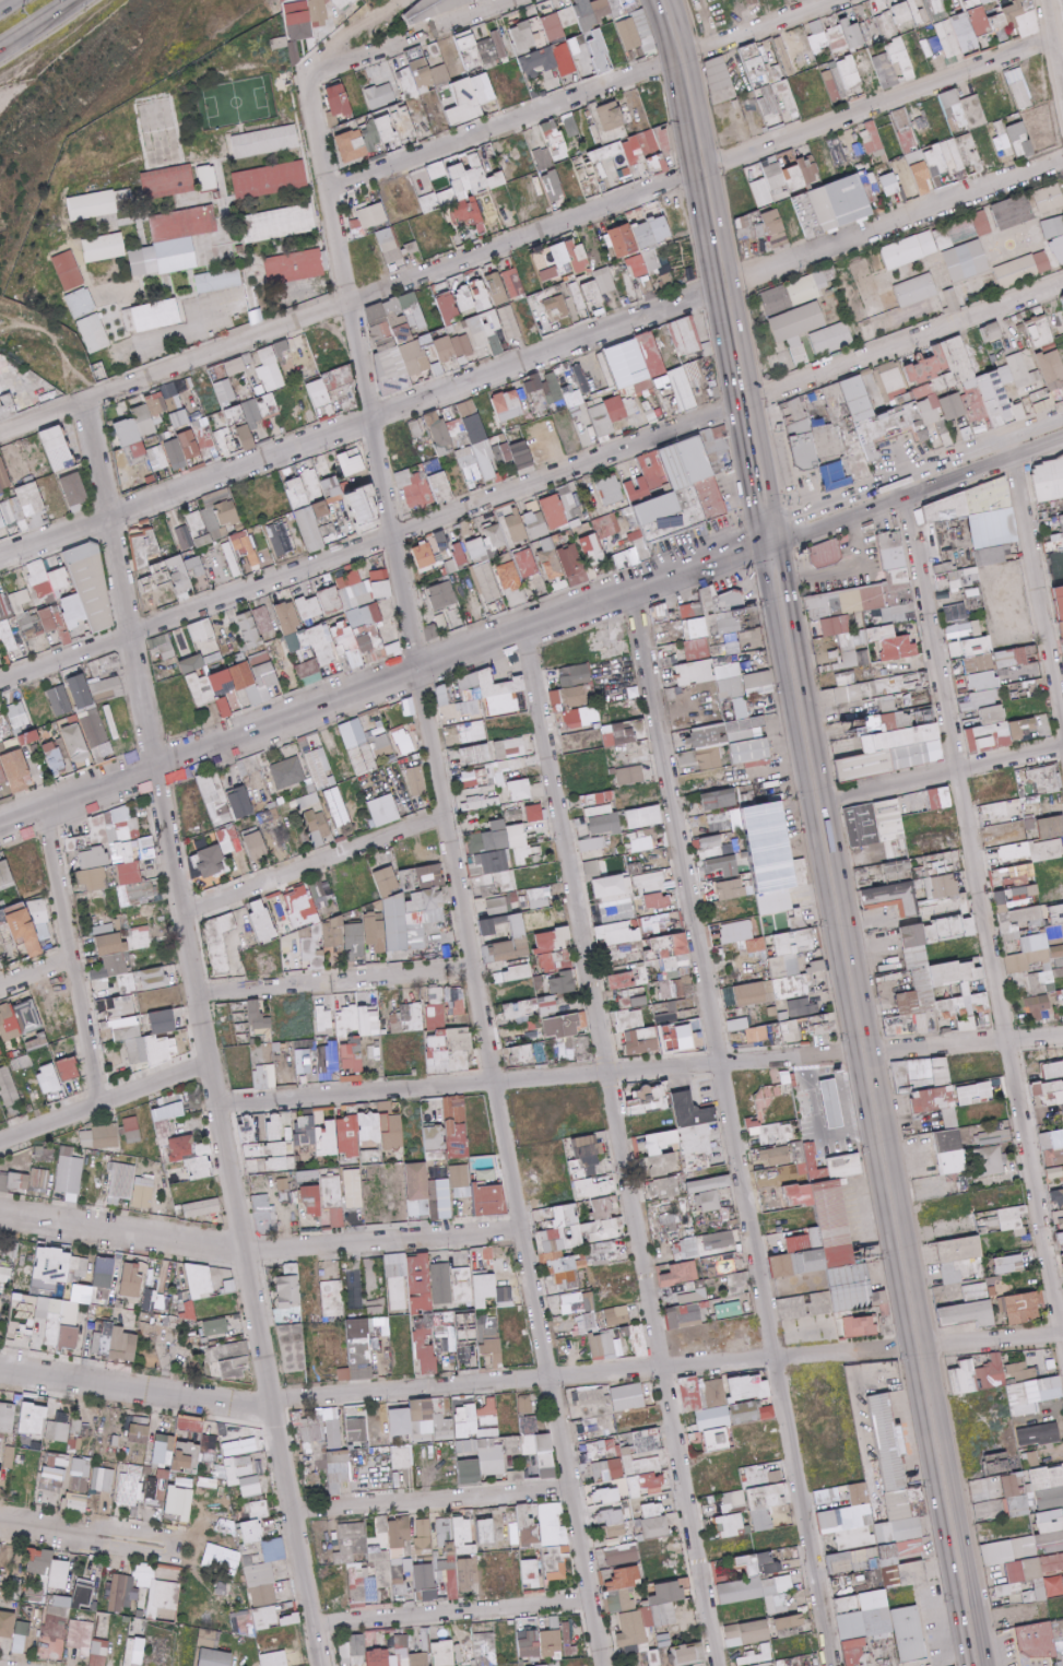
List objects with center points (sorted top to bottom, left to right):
power tower: (19, 11)
gas station: (826, 1099)

